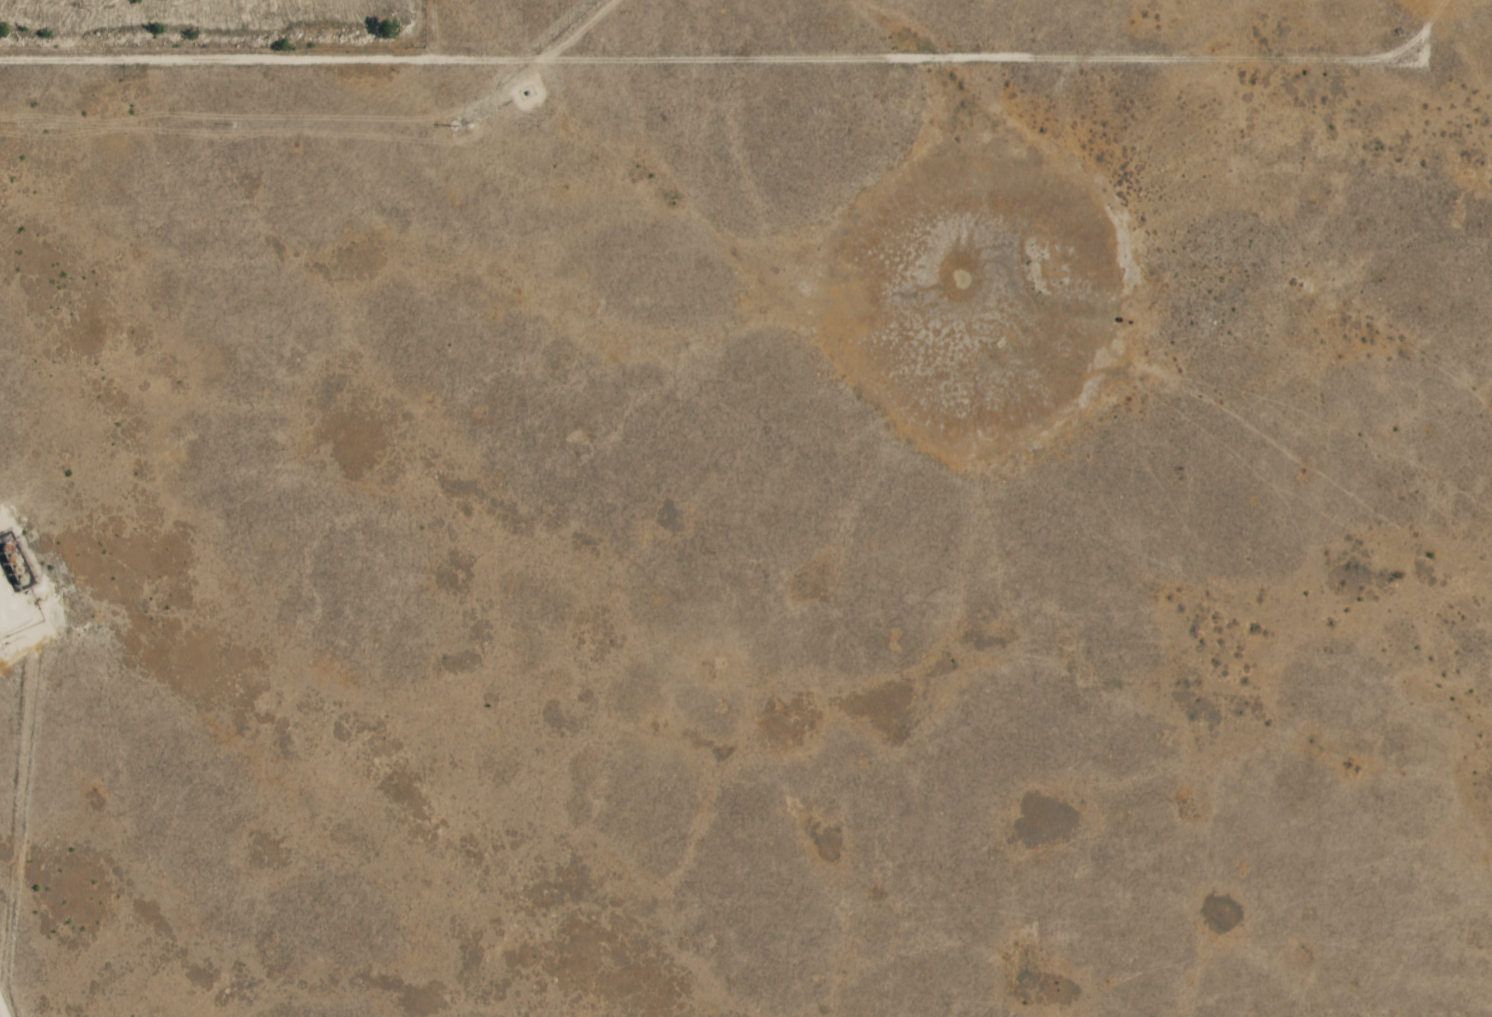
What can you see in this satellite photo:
road: (282, 65)
road: (7, 997)

